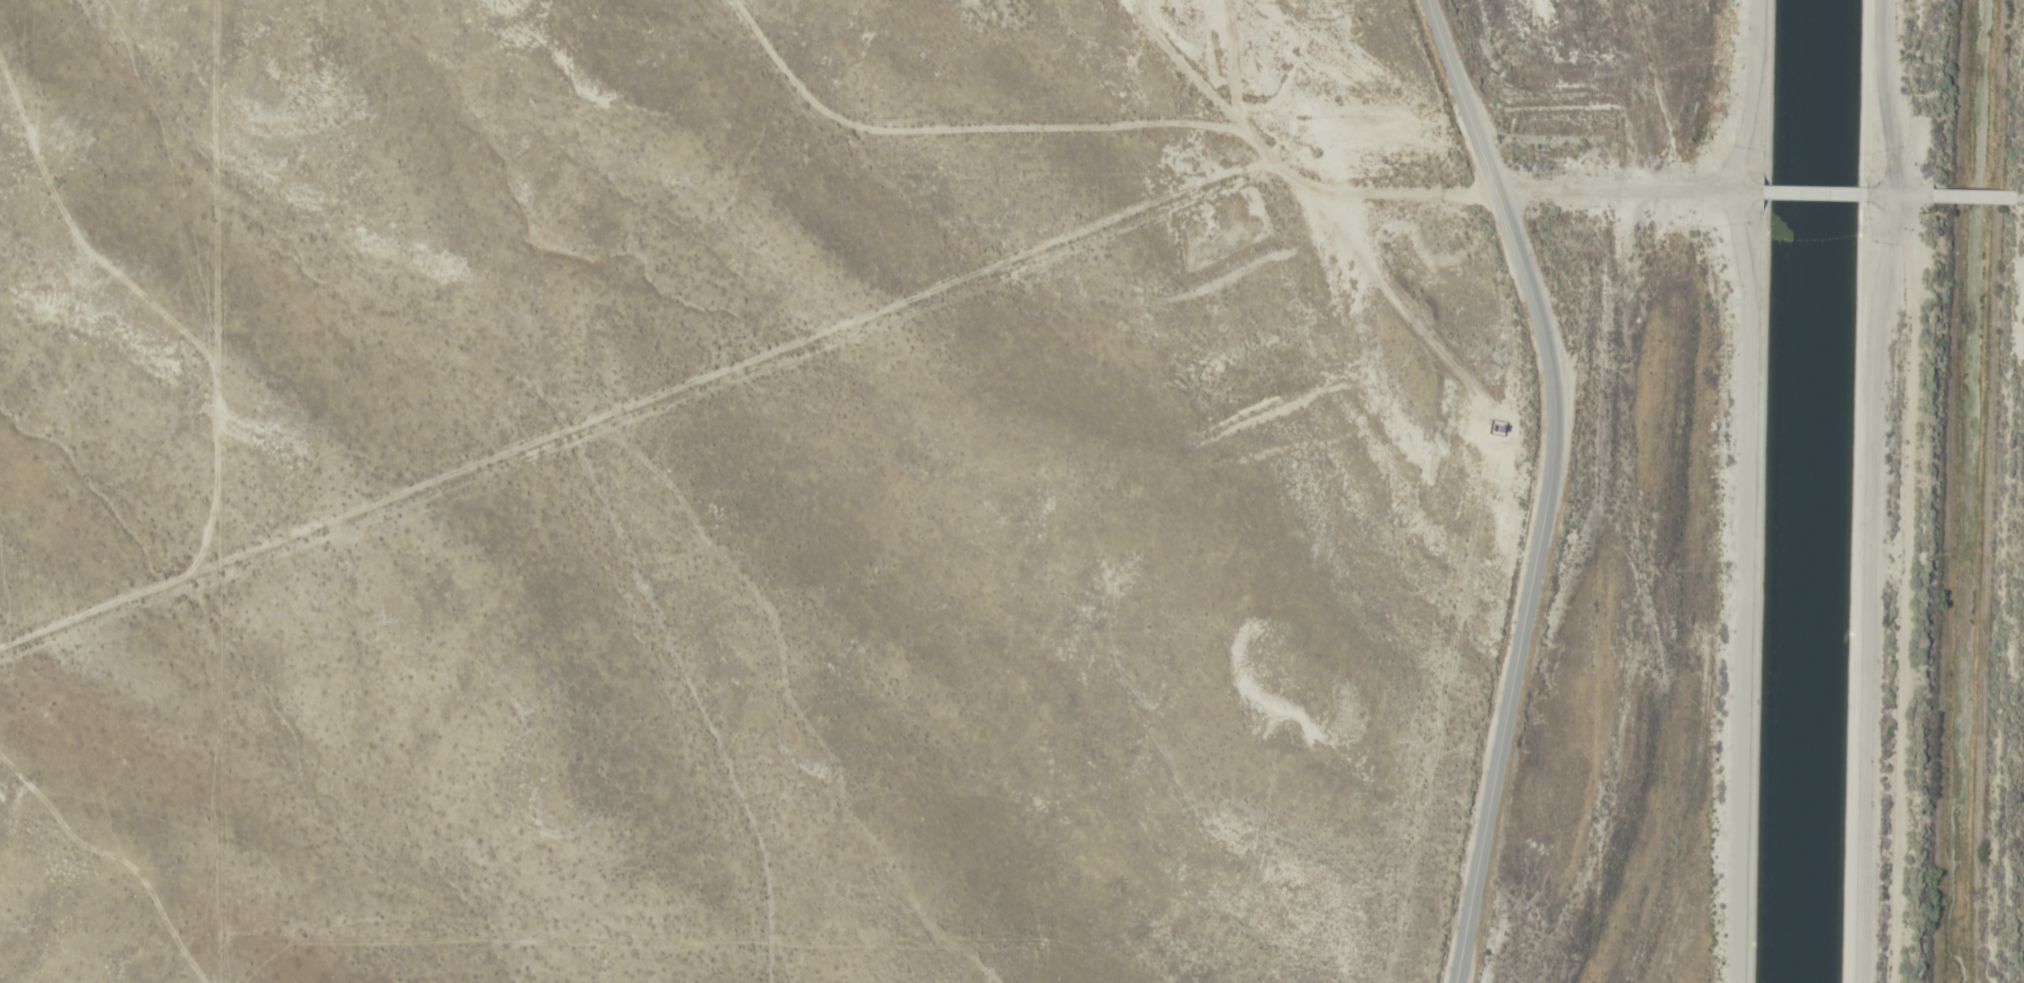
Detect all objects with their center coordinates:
road: (1545, 190)
road: (1814, 191)
road: (1898, 193)
road: (1971, 195)
road: (2018, 195)
road: (668, 391)
road: (1547, 485)
road: (1749, 489)
road: (1871, 489)
crop: (723, 490)

